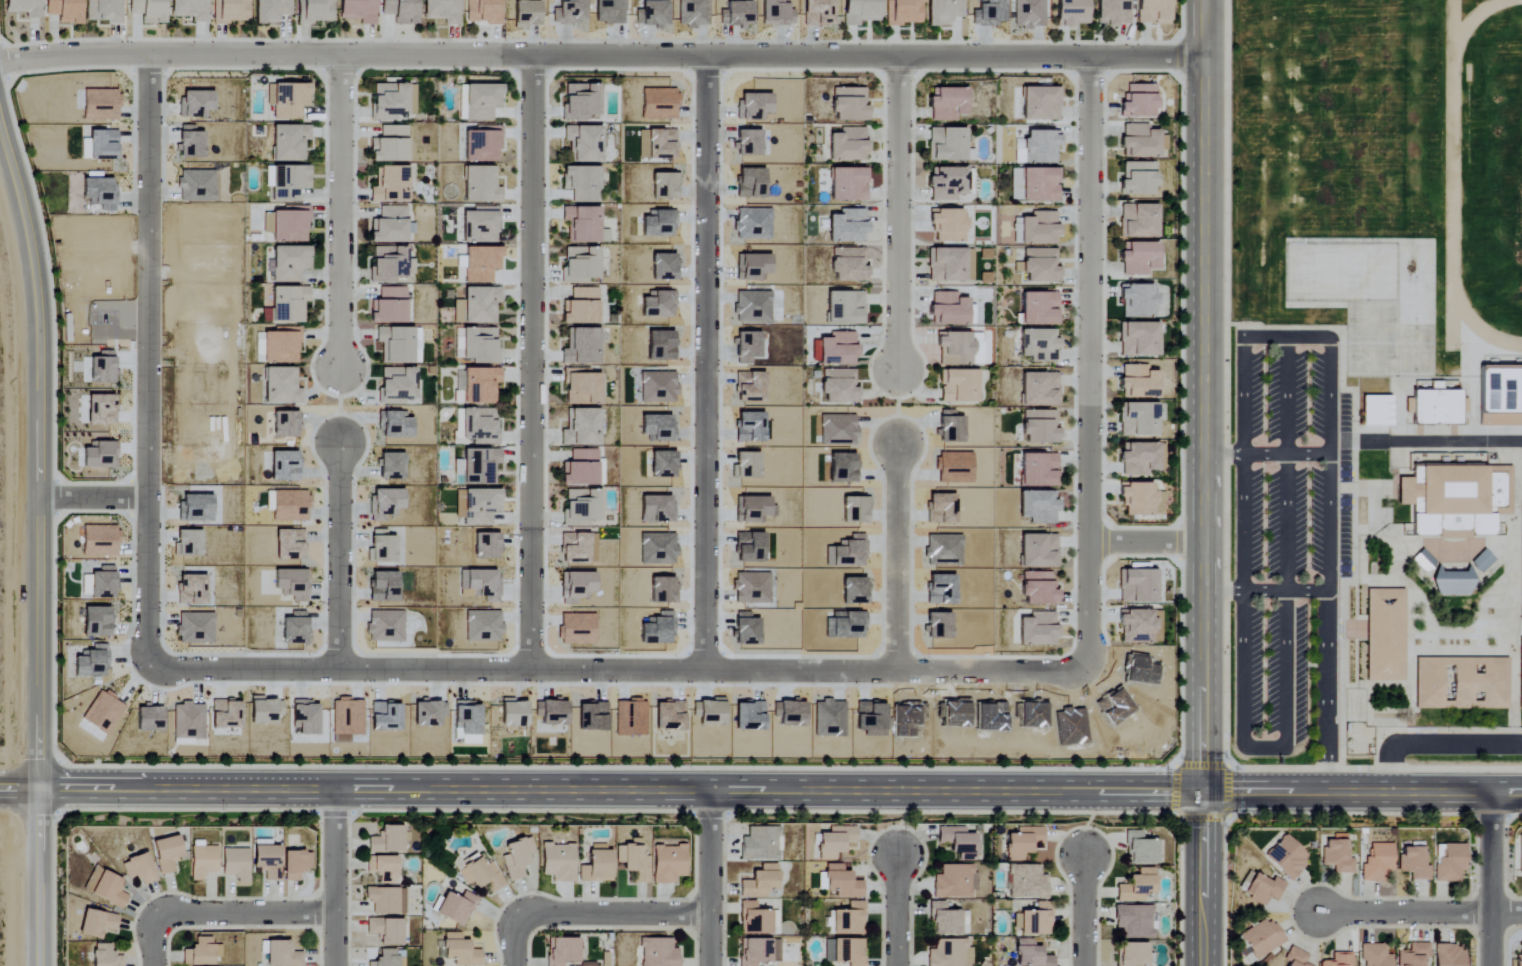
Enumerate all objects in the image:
building: (23, 8)
building: (147, 10)
building: (189, 10)
building: (63, 11)
building: (102, 11)
building: (232, 11)
building: (269, 11)
building: (315, 11)
building: (357, 11)
building: (400, 11)
building: (441, 11)
building: (482, 11)
building: (569, 12)
building: (608, 12)
building: (860, 12)
building: (903, 12)
building: (943, 12)
building: (1113, 12)
building: (1153, 12)
building: (693, 13)
building: (775, 13)
building: (817, 13)
building: (990, 13)
building: (1072, 13)
building: (526, 14)
building: (652, 14)
building: (736, 14)
building: (1029, 14)
road: (600, 57)
park: (1309, 100)
building: (289, 101)
building: (393, 101)
building: (1139, 101)
building: (481, 102)
building: (580, 102)
building: (195, 104)
building: (658, 104)
building: (948, 104)
building: (1041, 104)
building: (100, 105)
building: (753, 105)
building: (849, 105)
building: (1139, 142)
building: (190, 143)
building: (289, 143)
building: (584, 143)
building: (747, 143)
building: (102, 144)
building: (660, 144)
building: (389, 145)
building: (482, 145)
building: (848, 145)
building: (947, 145)
building: (1038, 148)
park: (1481, 177)
building: (1138, 179)
building: (288, 183)
building: (581, 183)
building: (750, 183)
building: (946, 184)
building: (390, 185)
building: (480, 185)
building: (848, 185)
building: (1034, 185)
building: (195, 186)
building: (662, 186)
building: (98, 193)
road: (339, 212)
road: (897, 214)
building: (1139, 222)
building: (287, 225)
building: (581, 225)
building: (948, 225)
building: (389, 226)
building: (478, 227)
building: (848, 227)
building: (1040, 229)
building: (1016, 230)
building: (1140, 259)
building: (289, 264)
building: (389, 264)
building: (481, 265)
building: (580, 265)
building: (848, 265)
building: (947, 265)
building: (1039, 266)
building: (1137, 302)
building: (288, 305)
building: (480, 305)
building: (388, 307)
building: (580, 307)
building: (845, 309)
building: (1039, 309)
building: (948, 310)
building: (457, 312)
building: (1138, 340)
building: (399, 345)
building: (479, 345)
building: (1039, 345)
building: (280, 346)
building: (581, 348)
building: (837, 350)
building: (954, 350)
road: (1244, 352)
road: (151, 362)
road: (531, 363)
road: (706, 364)
road: (1091, 367)
building: (101, 369)
building: (1138, 383)
building: (396, 385)
building: (480, 386)
building: (281, 387)
building: (839, 387)
building: (958, 387)
building: (581, 388)
building: (1040, 390)
road: (1286, 395)
building: (1500, 395)
building: (1435, 403)
building: (1374, 409)
building: (100, 410)
building: (1138, 420)
building: (284, 425)
building: (394, 425)
building: (475, 426)
building: (581, 428)
building: (1040, 428)
road: (1265, 453)
building: (99, 456)
building: (1141, 459)
road: (1330, 465)
building: (284, 467)
building: (390, 467)
building: (480, 467)
building: (580, 469)
building: (1039, 471)
building: (458, 473)
road: (1201, 483)
building: (1455, 494)
road: (96, 499)
building: (1141, 500)
building: (384, 504)
building: (477, 504)
building: (287, 506)
building: (581, 507)
building: (1038, 508)
building: (194, 509)
road: (1243, 522)
road: (1286, 522)
building: (99, 541)
road: (40, 543)
building: (187, 544)
building: (288, 545)
road: (1146, 545)
building: (381, 547)
building: (485, 547)
building: (574, 547)
building: (1039, 552)
road: (339, 555)
road: (898, 560)
building: (1423, 560)
building: (1482, 560)
building: (1521, 566)
building: (1452, 581)
building: (102, 584)
building: (480, 584)
building: (291, 585)
building: (577, 586)
building: (1137, 587)
building: (383, 588)
building: (1038, 590)
building: (191, 591)
road: (1265, 591)
building: (96, 622)
building: (483, 626)
building: (385, 627)
building: (1137, 627)
building: (195, 628)
building: (295, 630)
building: (576, 630)
building: (1038, 630)
building: (1385, 633)
building: (90, 662)
road: (614, 670)
building: (1520, 672)
building: (1461, 682)
road: (1329, 692)
building: (264, 710)
building: (103, 712)
building: (428, 713)
building: (512, 713)
building: (225, 714)
building: (384, 716)
building: (304, 717)
building: (148, 718)
building: (346, 720)
building: (188, 721)
building: (467, 721)
road: (1435, 747)
road: (1265, 748)
road: (20, 787)
road: (780, 792)
road: (1226, 816)
building: (386, 840)
building: (835, 842)
building: (957, 842)
building: (1022, 842)
building: (759, 844)
building: (1140, 849)
building: (166, 854)
building: (1336, 856)
building: (1286, 857)
building: (516, 858)
building: (1520, 859)
building: (266, 861)
building: (633, 861)
building: (202, 862)
building: (558, 862)
building: (1377, 862)
building: (1413, 862)
building: (668, 863)
building: (235, 864)
building: (294, 864)
building: (596, 867)
building: (138, 868)
building: (382, 868)
building: (480, 875)
road: (333, 877)
road: (710, 878)
road: (1490, 878)
building: (759, 882)
building: (842, 882)
building: (953, 882)
building: (1025, 882)
building: (1137, 886)
building: (105, 887)
building: (1263, 889)
building: (386, 900)
building: (456, 907)
road: (895, 910)
road: (1082, 910)
road: (1419, 912)
road: (243, 914)
road: (618, 915)
building: (754, 919)
building: (848, 919)
building: (944, 919)
building: (1033, 920)
building: (1134, 921)
building: (96, 923)
building: (385, 930)
road: (514, 938)
building: (1262, 938)
road: (153, 944)
building: (459, 950)
building: (561, 951)
building: (758, 951)
building: (848, 951)
building: (658, 952)
building: (949, 953)
building: (281, 954)
building: (1031, 954)
building: (1132, 954)
building: (1375, 955)
building: (1413, 955)
building: (104, 956)
building: (1449, 956)
building: (1295, 957)
building: (389, 958)
building: (1338, 959)

